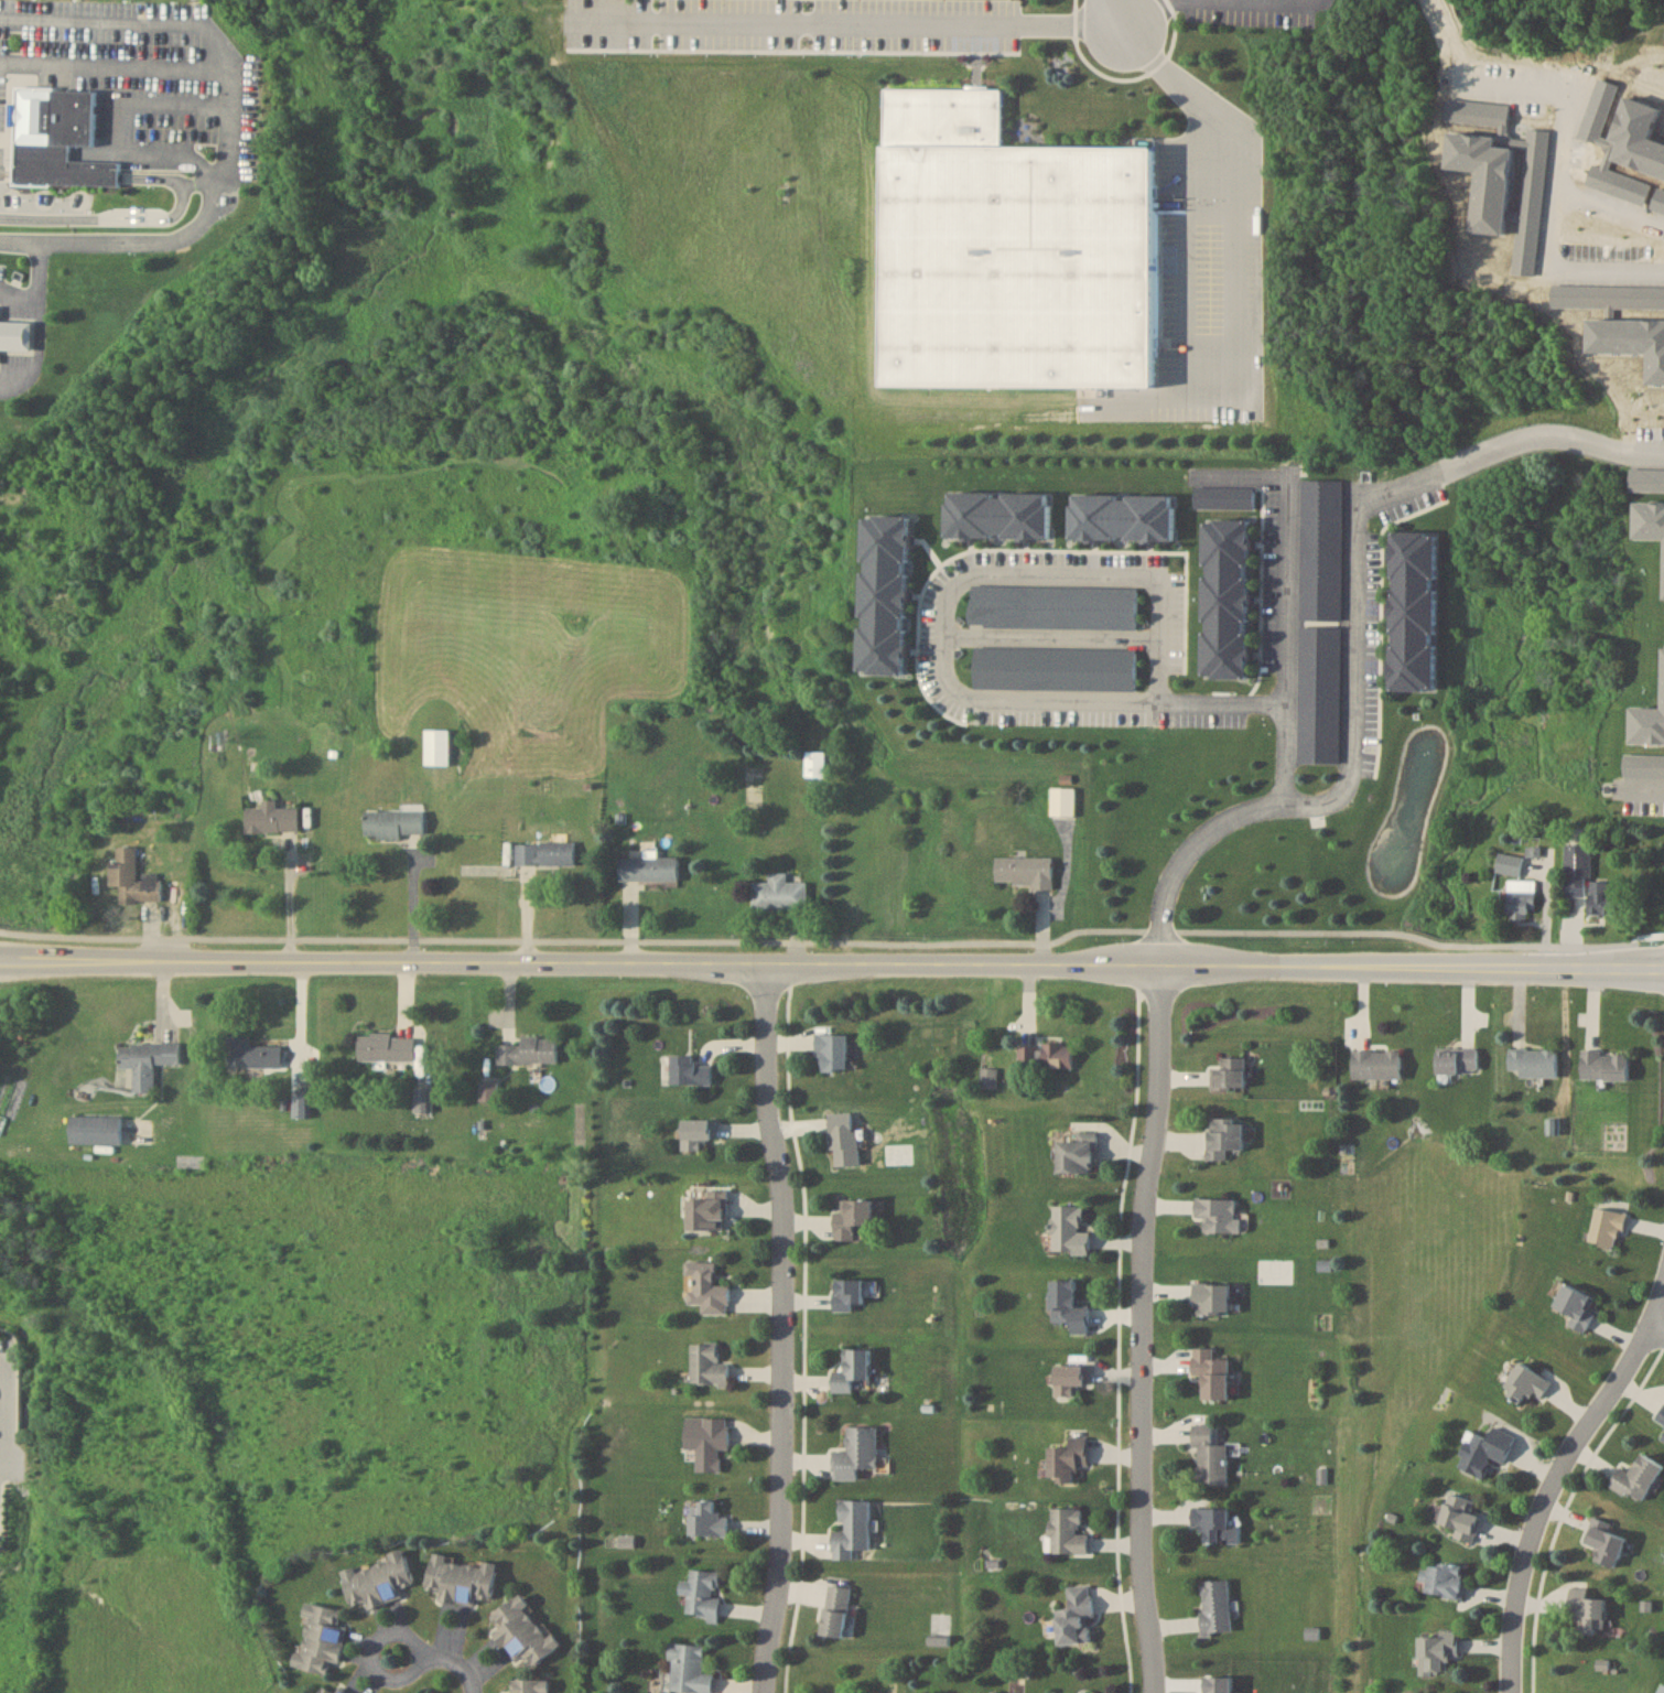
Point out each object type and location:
road: (1115, 15)
road: (1148, 15)
road: (865, 19)
road: (104, 21)
road: (114, 65)
road: (1124, 76)
road: (225, 94)
road: (166, 101)
road: (107, 109)
building: (56, 140)
road: (163, 157)
road: (6, 173)
road: (216, 174)
road: (154, 177)
road: (1559, 184)
road: (1611, 205)
road: (117, 218)
road: (20, 242)
road: (147, 242)
building: (1007, 250)
road: (40, 267)
road: (1233, 270)
parking lot: (1, 282)
road: (1, 291)
road: (40, 305)
building: (15, 335)
road: (21, 374)
road: (1552, 435)
building: (1213, 495)
road: (1125, 574)
building: (1224, 597)
building: (1413, 610)
road: (1050, 636)
road: (1282, 638)
road: (987, 701)
road: (1219, 702)
building: (435, 746)
road: (1352, 750)
building: (814, 763)
road: (1639, 788)
building: (1063, 801)
building: (271, 818)
building: (393, 822)
building: (544, 852)
building: (1509, 863)
building: (648, 867)
building: (1024, 871)
building: (131, 877)
building: (1586, 880)
building: (779, 893)
road: (292, 897)
building: (1521, 898)
road: (834, 939)
road: (831, 969)
building: (386, 1047)
building: (529, 1050)
building: (832, 1052)
building: (251, 1053)
building: (1046, 1056)
building: (1458, 1059)
building: (147, 1060)
building: (1532, 1061)
building: (1377, 1064)
building: (1603, 1065)
building: (689, 1070)
building: (1229, 1072)
building: (488, 1090)
building: (422, 1099)
building: (302, 1104)
building: (94, 1130)
building: (699, 1130)
building: (1224, 1135)
road: (796, 1139)
building: (843, 1139)
building: (1077, 1151)
building: (706, 1210)
building: (1219, 1215)
building: (852, 1217)
building: (1607, 1228)
building: (1068, 1230)
building: (706, 1288)
building: (847, 1294)
building: (1212, 1300)
building: (1069, 1306)
building: (1576, 1307)
road: (1120, 1329)
road: (1143, 1329)
road: (1655, 1329)
road: (784, 1331)
building: (707, 1366)
building: (852, 1371)
building: (1212, 1373)
building: (1070, 1379)
building: (1526, 1383)
road: (7, 1413)
building: (1661, 1417)
building: (1663, 1437)
building: (706, 1441)
building: (1484, 1451)
building: (855, 1454)
building: (1209, 1456)
building: (1068, 1459)
road: (1559, 1478)
building: (1636, 1479)
road: (804, 1506)
building: (1461, 1518)
building: (706, 1519)
building: (1210, 1520)
building: (851, 1528)
building: (1067, 1531)
building: (1606, 1543)
building: (461, 1578)
building: (1446, 1578)
building: (378, 1579)
building: (703, 1593)
building: (1214, 1605)
building: (1588, 1609)
building: (835, 1610)
building: (1074, 1616)
building: (522, 1631)
building: (320, 1638)
building: (1437, 1651)
road: (368, 1658)
building: (689, 1668)
road: (456, 1670)
building: (527, 1685)
building: (331, 1687)
building: (1662, 1689)

